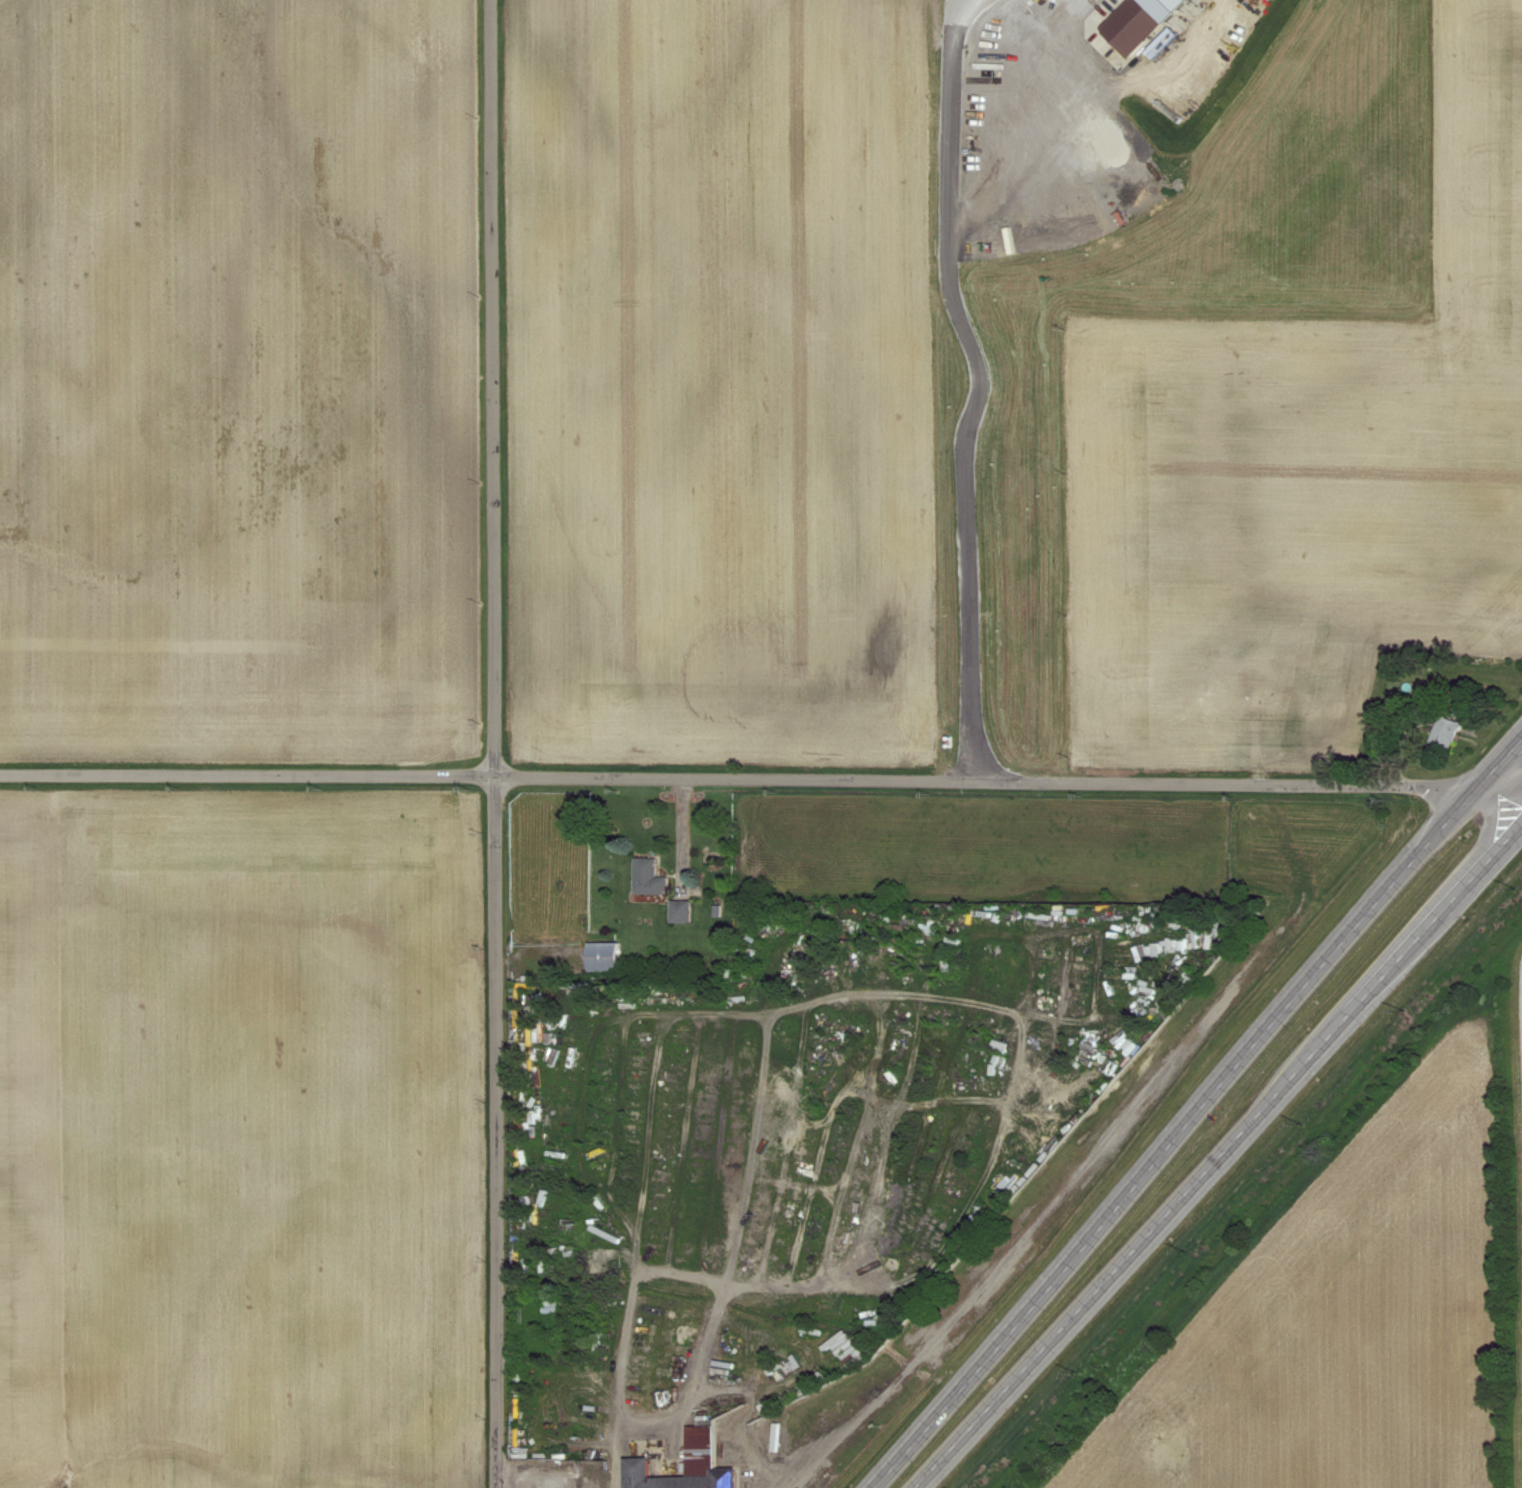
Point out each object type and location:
building: (1132, 27)
parking lot: (1060, 110)
road: (974, 389)
building: (1445, 731)
road: (494, 743)
road: (737, 778)
road: (1498, 786)
building: (646, 877)
building: (678, 911)
building: (927, 929)
building: (1170, 946)
building: (600, 956)
road: (1196, 1111)
road: (1222, 1158)
road: (1051, 1190)
building: (641, 1451)
parking lot: (775, 1467)
parking lot: (547, 1475)

